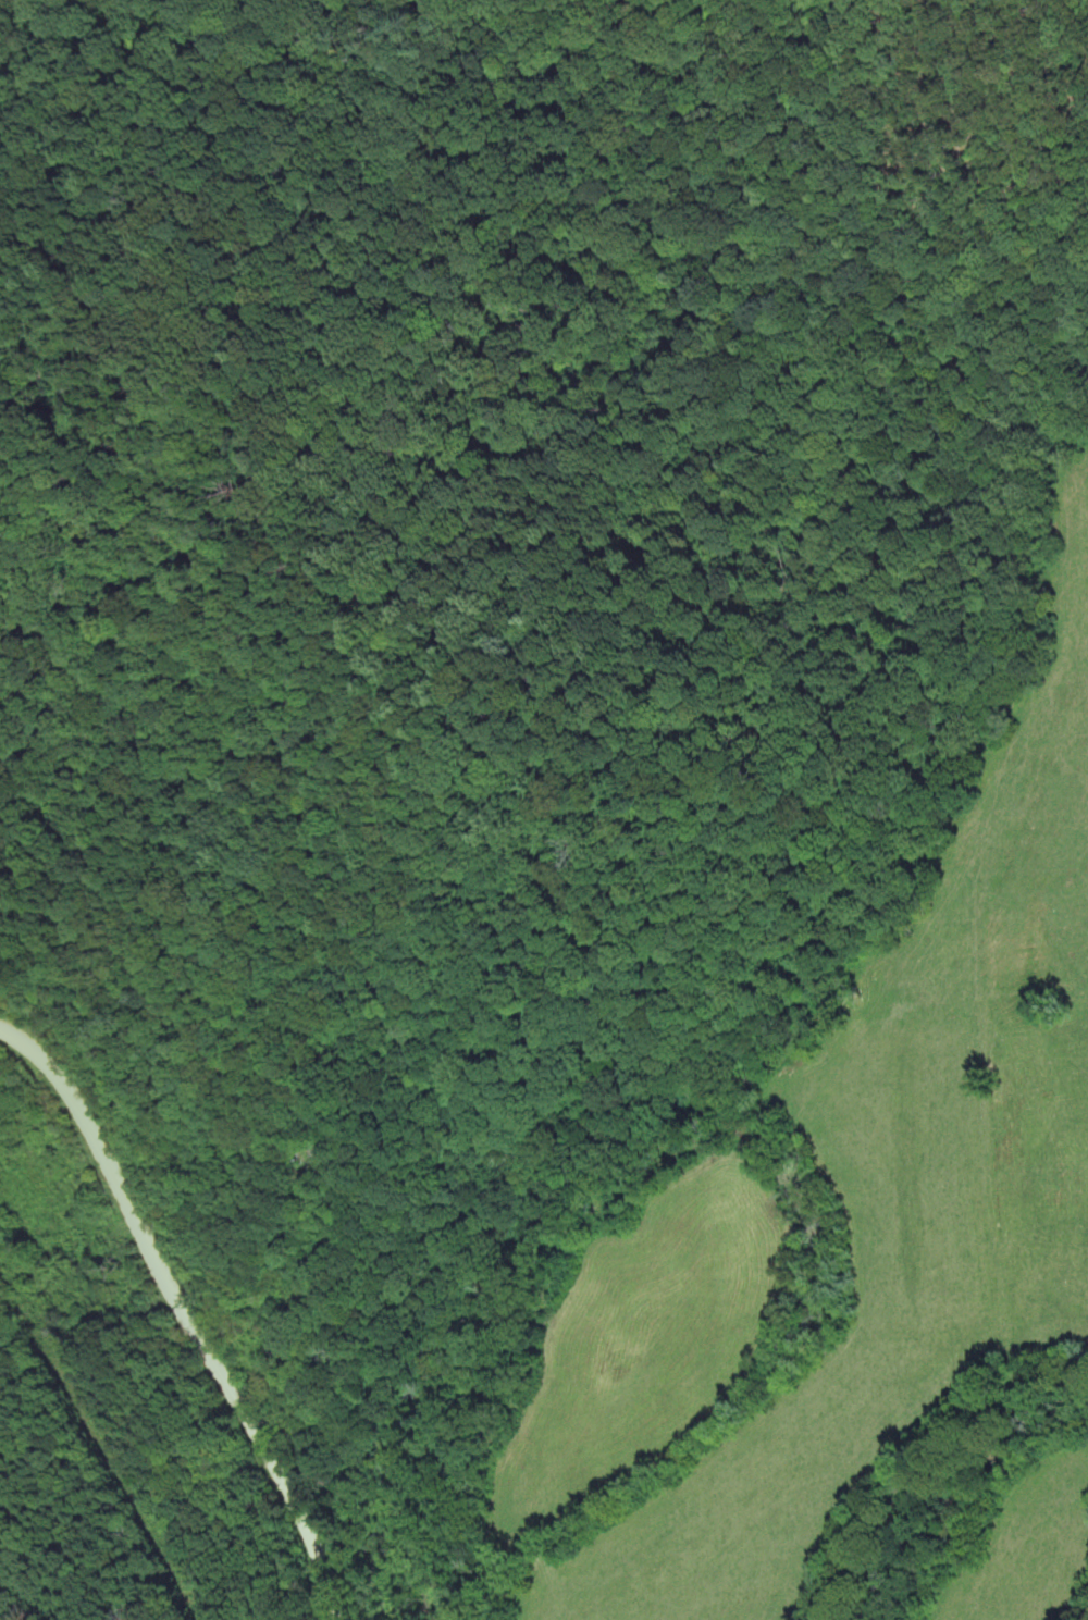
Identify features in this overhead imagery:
road: (189, 1311)

